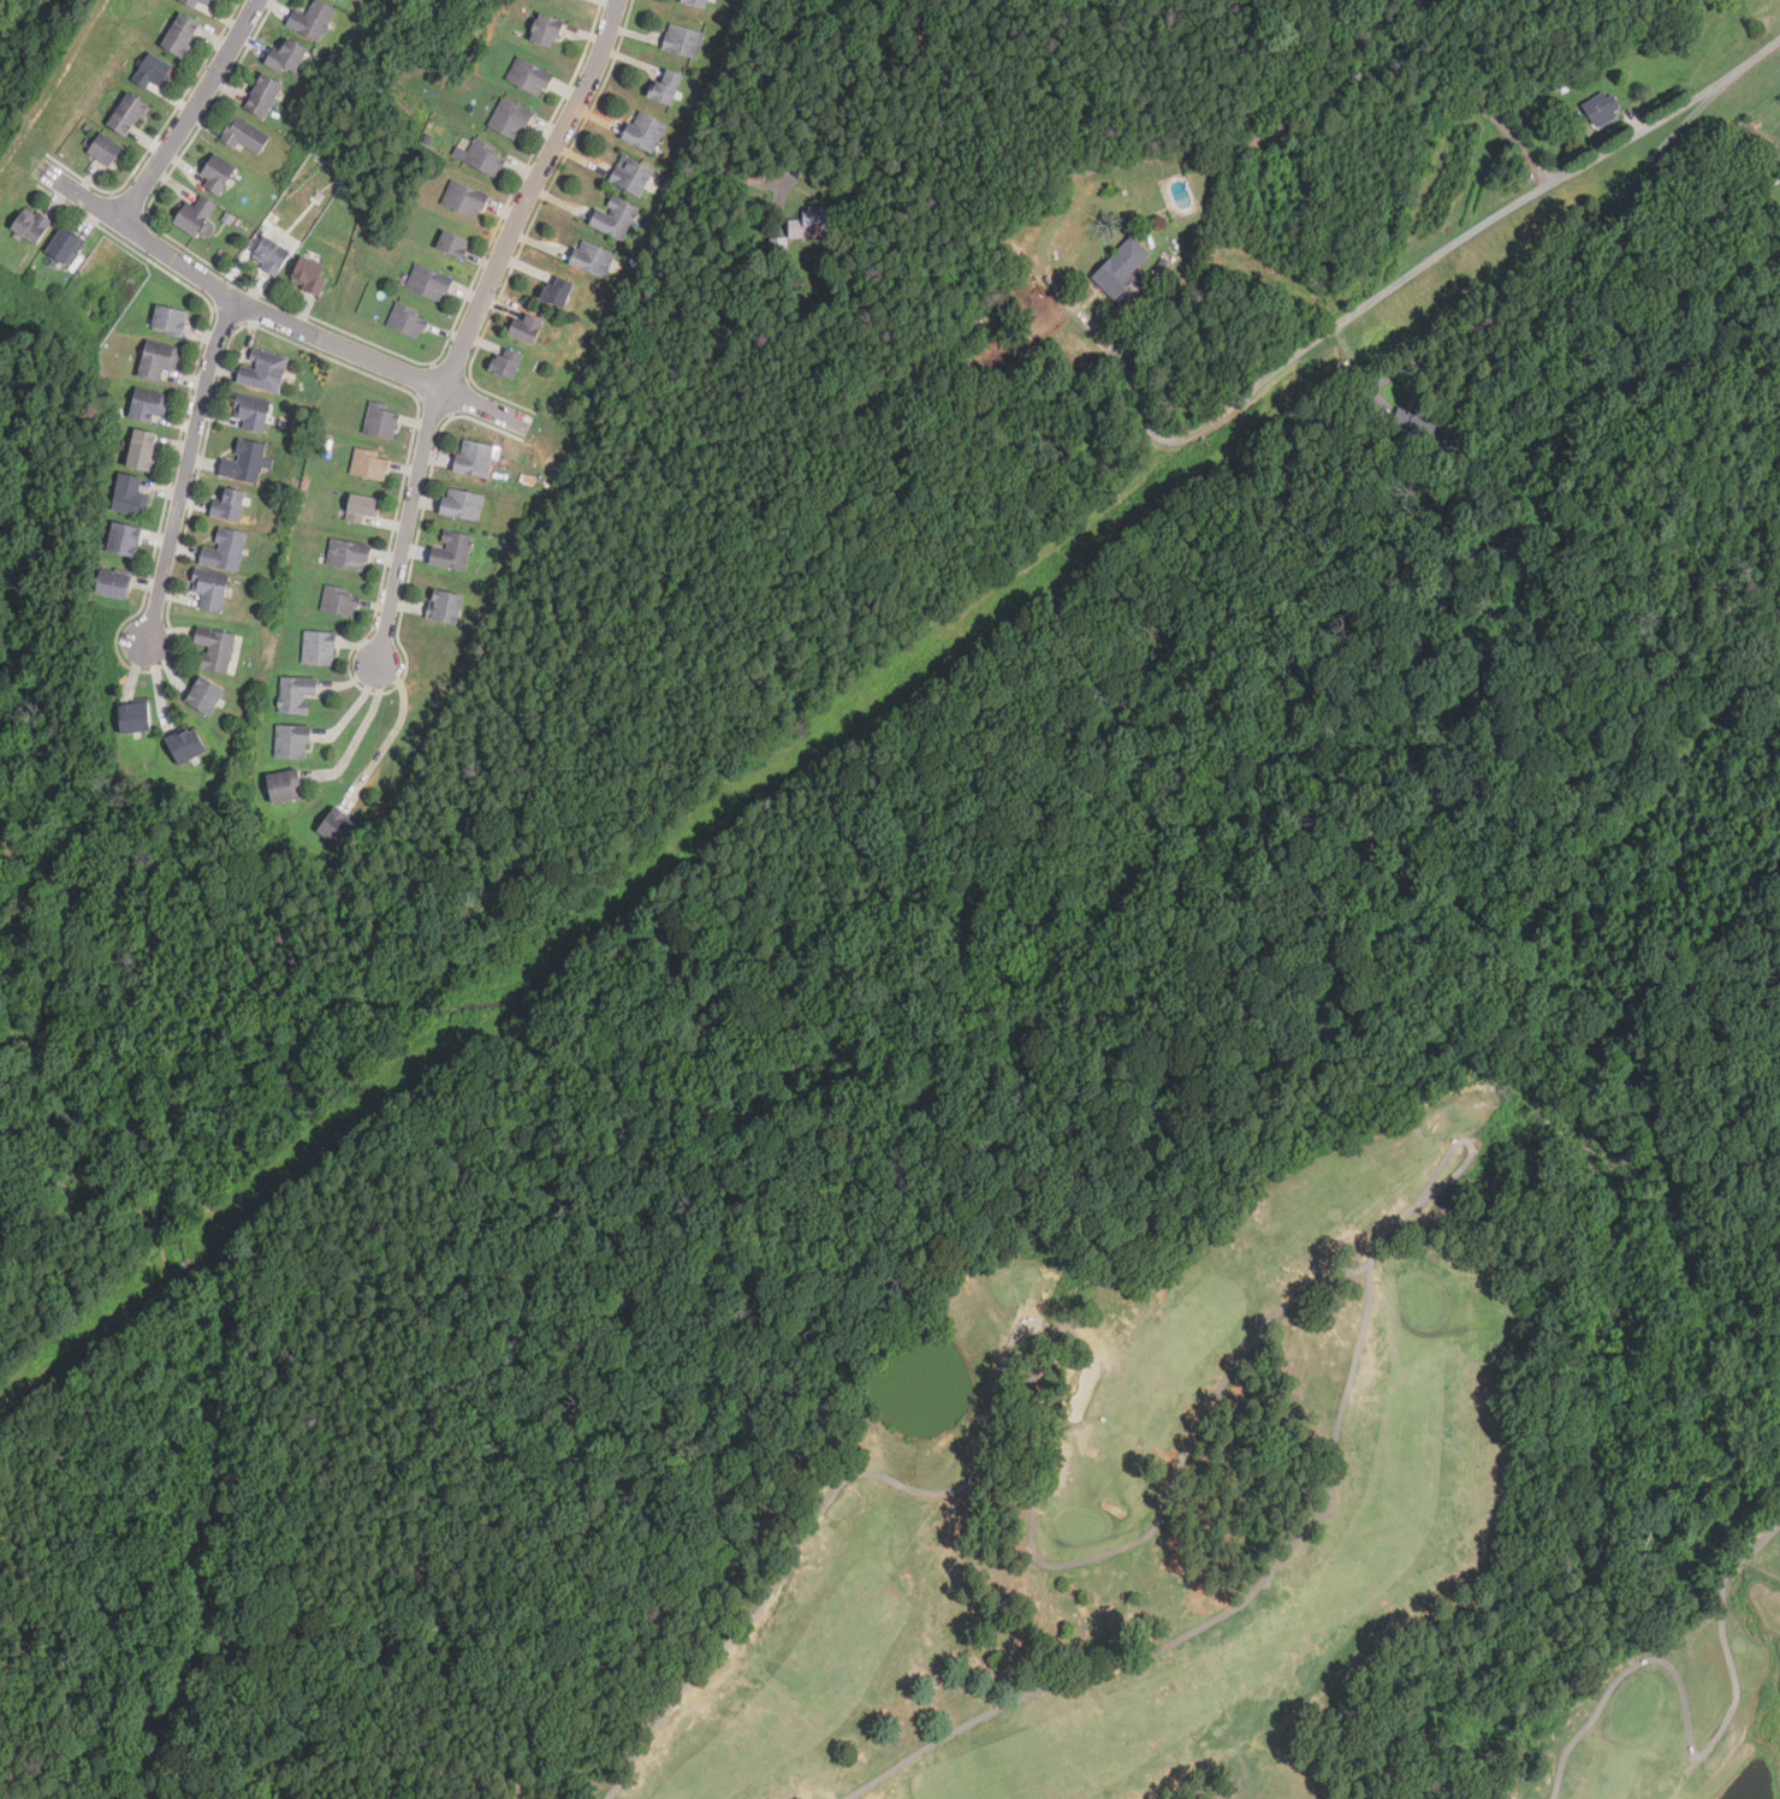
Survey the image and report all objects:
building: (333, 0)
building: (209, 1)
building: (192, 2)
building: (698, 2)
building: (311, 19)
building: (548, 29)
building: (183, 34)
building: (682, 40)
building: (289, 55)
building: (154, 71)
building: (529, 76)
building: (667, 85)
building: (265, 94)
building: (1601, 107)
building: (129, 113)
road: (195, 113)
building: (510, 118)
building: (645, 130)
building: (244, 135)
building: (107, 149)
road: (1164, 150)
building: (486, 158)
building: (216, 173)
building: (631, 174)
building: (465, 198)
building: (196, 214)
building: (615, 216)
building: (813, 222)
building: (32, 225)
building: (455, 243)
building: (65, 244)
building: (271, 255)
building: (592, 257)
road: (1428, 260)
road: (1555, 263)
building: (1123, 266)
building: (310, 274)
building: (431, 281)
building: (558, 290)
building: (171, 319)
building: (408, 320)
road: (475, 323)
road: (293, 326)
building: (527, 327)
building: (158, 358)
building: (508, 361)
building: (263, 370)
building: (149, 403)
building: (251, 411)
building: (381, 418)
building: (1423, 426)
building: (143, 449)
building: (475, 457)
building: (247, 461)
building: (370, 464)
road: (185, 470)
building: (130, 494)
building: (229, 503)
building: (462, 503)
building: (363, 507)
building: (125, 539)
building: (225, 550)
building: (452, 550)
building: (349, 553)
building: (114, 583)
building: (212, 588)
building: (340, 600)
building: (445, 605)
building: (216, 647)
building: (319, 647)
building: (296, 693)
building: (206, 694)
building: (135, 717)
road: (396, 726)
road: (361, 731)
building: (292, 741)
building: (188, 743)
building: (285, 784)
building: (338, 825)
road: (1468, 1145)
road: (1008, 1488)
park: (1228, 1498)
road: (1245, 1597)
road: (1690, 1747)

